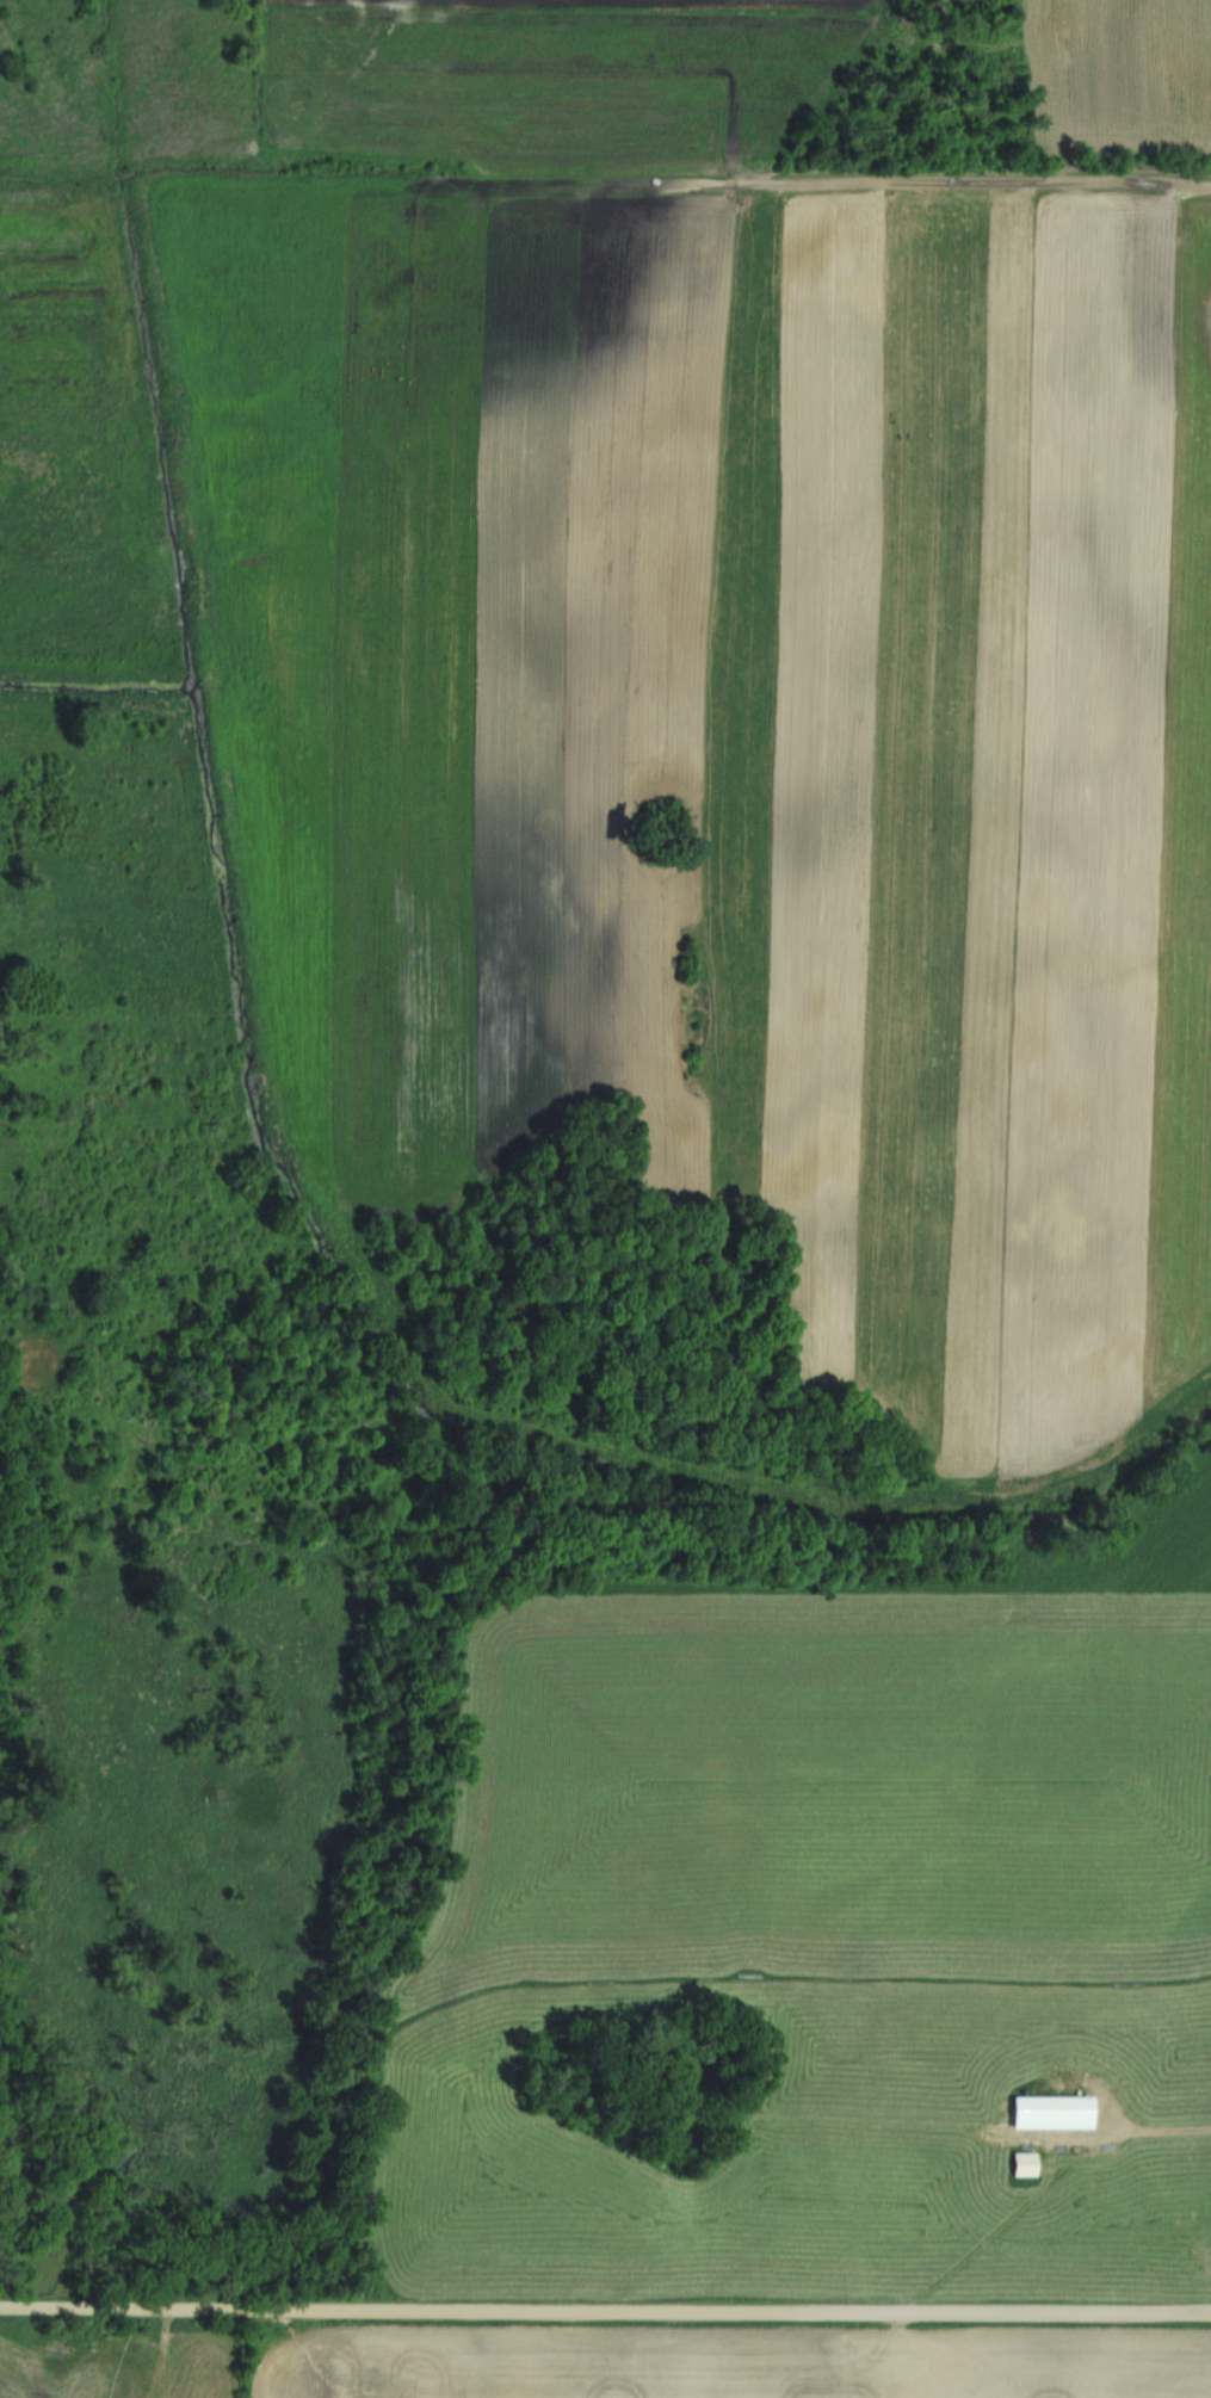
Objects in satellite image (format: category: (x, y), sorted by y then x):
road: (605, 2312)

